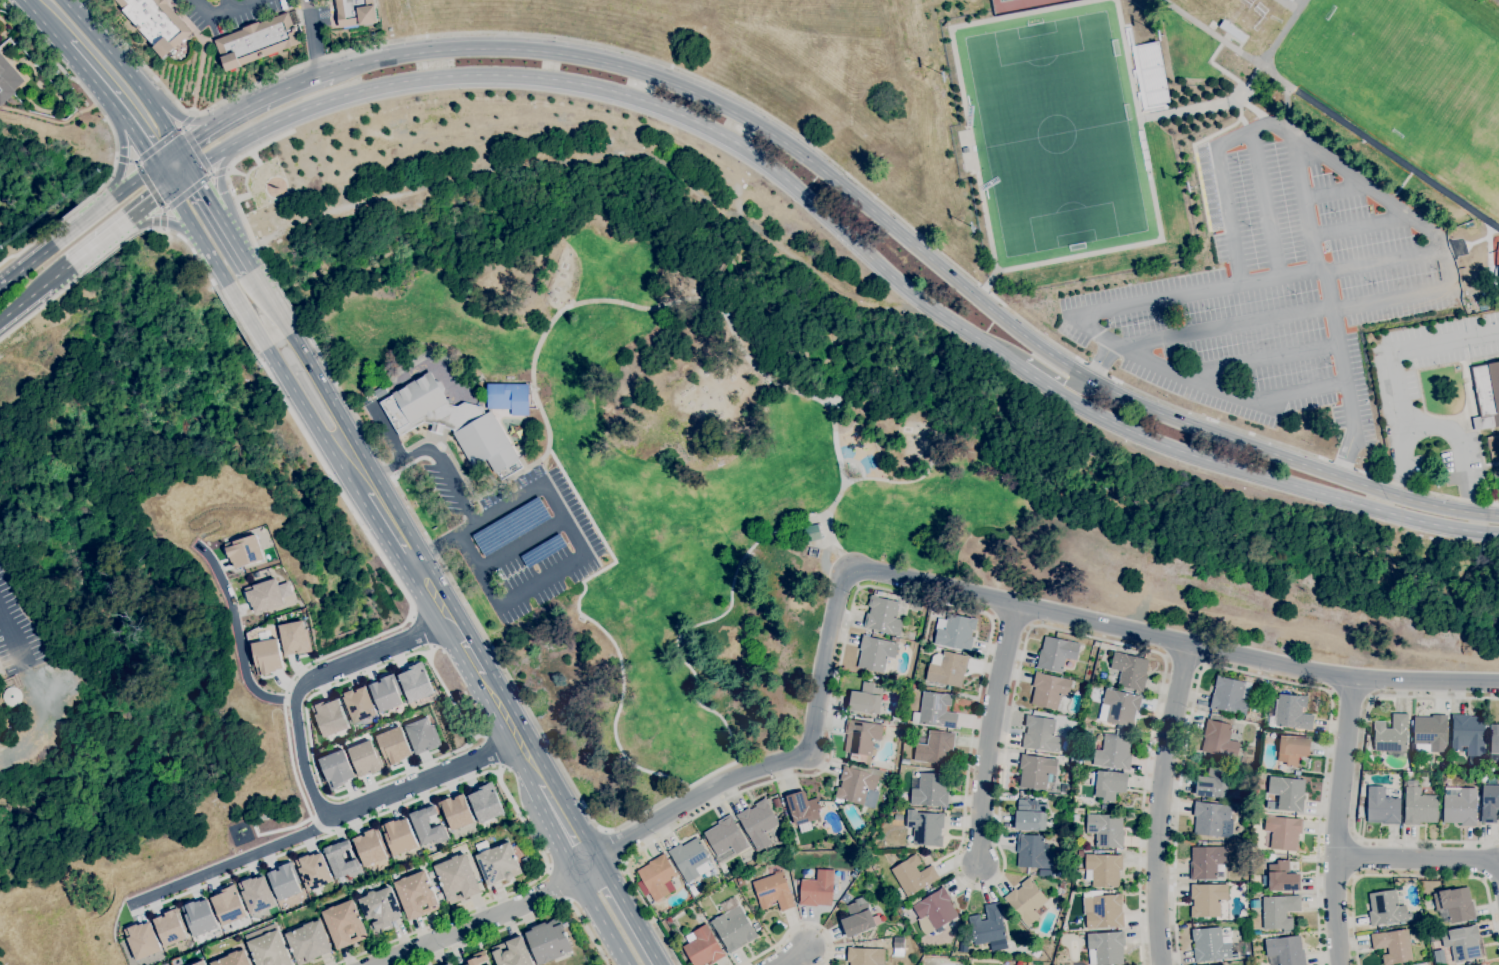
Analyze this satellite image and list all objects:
park: (1000, 0)
building: (1291, 0)
road: (229, 5)
parking lot: (228, 10)
road: (222, 12)
building: (355, 13)
road: (43, 23)
building: (156, 23)
road: (312, 38)
building: (257, 41)
road: (100, 45)
building: (7, 80)
park: (1411, 80)
road: (79, 84)
road: (279, 90)
road: (637, 99)
road: (112, 104)
road: (1331, 114)
road: (180, 117)
road: (182, 119)
road: (165, 129)
road: (203, 131)
park: (1054, 132)
road: (800, 137)
road: (159, 144)
road: (195, 148)
traffic signals: (178, 149)
road: (120, 150)
road: (167, 157)
road: (127, 161)
road: (508, 163)
traffic signals: (156, 166)
traffic signals: (191, 171)
road: (216, 172)
road: (162, 177)
road: (180, 179)
road: (134, 182)
road: (148, 184)
traffic signals: (169, 188)
road: (221, 191)
road: (1335, 192)
road: (185, 194)
park: (1497, 194)
road: (148, 203)
road: (212, 204)
road: (1266, 205)
road: (1305, 205)
road: (74, 210)
road: (240, 212)
road: (184, 213)
road: (160, 220)
road: (83, 221)
road: (166, 223)
road: (1360, 226)
road: (744, 233)
road: (1435, 233)
road: (99, 242)
road: (188, 244)
road: (22, 249)
road: (919, 250)
road: (242, 253)
road: (109, 254)
road: (214, 261)
road: (724, 263)
road: (27, 265)
road: (834, 281)
parking lot: (1275, 284)
road: (707, 291)
road: (35, 292)
road: (281, 295)
road: (272, 301)
road: (40, 308)
road: (1115, 309)
road: (247, 315)
road: (237, 322)
road: (1410, 345)
parking lot: (1429, 350)
road: (1340, 352)
road: (1258, 360)
road: (1103, 361)
road: (1047, 371)
road: (533, 390)
building: (1486, 394)
building: (508, 398)
road: (817, 399)
building: (449, 421)
road: (313, 422)
building: (1493, 442)
road: (1459, 446)
road: (1346, 454)
road: (1402, 459)
road: (437, 461)
building: (507, 470)
road: (1251, 472)
road: (900, 480)
road: (543, 486)
park: (685, 492)
road: (590, 520)
building: (510, 525)
road: (381, 531)
building: (813, 532)
parking lot: (518, 535)
road: (448, 540)
road: (520, 541)
building: (543, 550)
building: (243, 552)
road: (413, 560)
building: (879, 593)
building: (266, 594)
road: (446, 594)
road: (967, 594)
road: (507, 600)
building: (883, 615)
road: (704, 621)
road: (1251, 622)
road: (7, 627)
road: (390, 629)
building: (955, 631)
road: (239, 632)
building: (910, 636)
building: (293, 638)
building: (894, 639)
building: (1096, 643)
road: (465, 645)
road: (488, 645)
building: (875, 653)
building: (1056, 653)
building: (266, 656)
road: (1184, 662)
building: (888, 667)
road: (466, 669)
building: (948, 669)
building: (1129, 671)
road: (1254, 674)
building: (414, 683)
building: (1262, 685)
building: (915, 686)
building: (1093, 686)
building: (949, 687)
building: (1049, 690)
building: (384, 693)
building: (1230, 694)
road: (1350, 695)
road: (618, 698)
building: (866, 699)
building: (357, 704)
building: (1121, 706)
building: (935, 710)
building: (1291, 712)
building: (328, 717)
building: (1078, 730)
building: (1430, 732)
road: (989, 734)
building: (1040, 734)
building: (1391, 734)
building: (1469, 734)
building: (420, 735)
building: (861, 736)
building: (1494, 738)
building: (1219, 739)
building: (392, 745)
building: (935, 748)
building: (1292, 749)
building: (1113, 751)
building: (363, 758)
building: (1073, 760)
building: (335, 768)
building: (1286, 769)
building: (1036, 770)
road: (1359, 773)
building: (1409, 773)
road: (305, 774)
building: (1108, 784)
building: (1214, 784)
building: (859, 785)
building: (929, 789)
road: (966, 790)
building: (1286, 793)
building: (1490, 801)
building: (776, 802)
building: (1079, 802)
building: (484, 803)
road: (1159, 803)
building: (833, 804)
building: (1418, 804)
building: (1459, 805)
building: (1103, 806)
building: (1382, 806)
building: (803, 809)
building: (456, 811)
building: (1065, 814)
building: (1030, 815)
building: (1210, 817)
building: (1076, 818)
road: (1337, 821)
building: (788, 823)
road: (551, 824)
building: (758, 824)
building: (426, 825)
building: (925, 828)
building: (1106, 829)
building: (1282, 832)
building: (398, 836)
building: (725, 838)
road: (613, 845)
building: (368, 847)
building: (1033, 852)
building: (1080, 852)
building: (869, 856)
road: (1354, 856)
building: (1271, 857)
road: (1421, 858)
building: (690, 859)
building: (340, 860)
building: (1207, 861)
road: (231, 862)
building: (498, 863)
building: (811, 865)
building: (1103, 869)
building: (312, 870)
building: (1081, 870)
building: (1049, 873)
building: (1059, 873)
building: (913, 875)
road: (1410, 875)
building: (655, 877)
building: (1281, 877)
building: (456, 878)
building: (740, 880)
building: (283, 881)
building: (1061, 884)
building: (817, 889)
building: (693, 890)
building: (850, 890)
building: (773, 891)
building: (1259, 892)
building: (255, 893)
building: (416, 894)
building: (845, 897)
building: (1207, 899)
building: (1027, 900)
building: (1455, 903)
building: (227, 905)
building: (936, 908)
building: (1386, 908)
building: (380, 909)
building: (1103, 909)
building: (1277, 910)
road: (465, 911)
road: (628, 911)
building: (198, 917)
road: (489, 918)
building: (700, 918)
building: (860, 918)
road: (525, 919)
road: (602, 919)
building: (344, 923)
road: (796, 924)
building: (987, 925)
building: (756, 926)
building: (169, 927)
building: (733, 928)
building: (142, 940)
building: (548, 941)
building: (308, 942)
building: (898, 942)
building: (1462, 942)
building: (1210, 944)
building: (1393, 945)
building: (703, 947)
building: (1105, 948)
building: (269, 949)
building: (1286, 950)
building: (512, 952)
road: (792, 956)
building: (865, 956)
building: (477, 958)
building: (233, 959)
building: (197, 963)
building: (1012, 963)
building: (448, 964)
building: (1481, 964)

